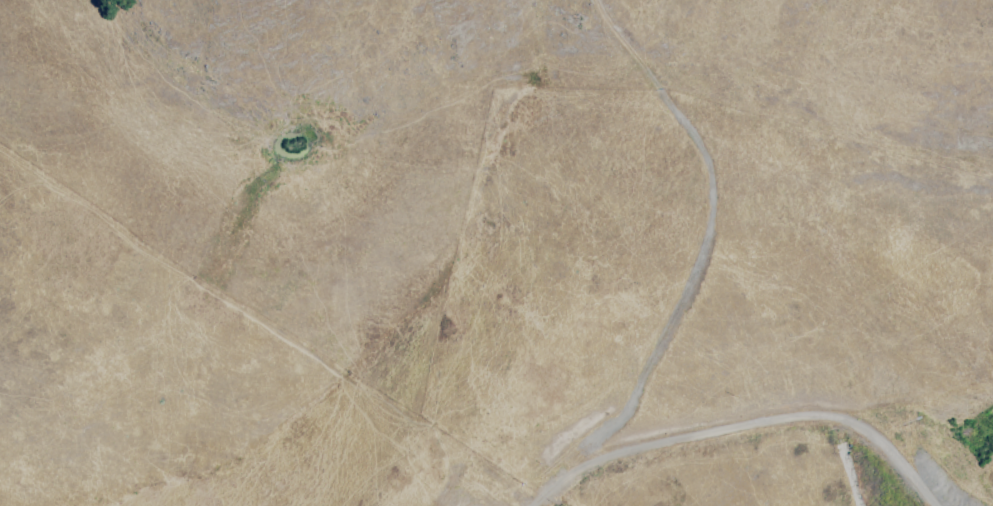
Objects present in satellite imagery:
road: (709, 229)
road: (742, 429)

